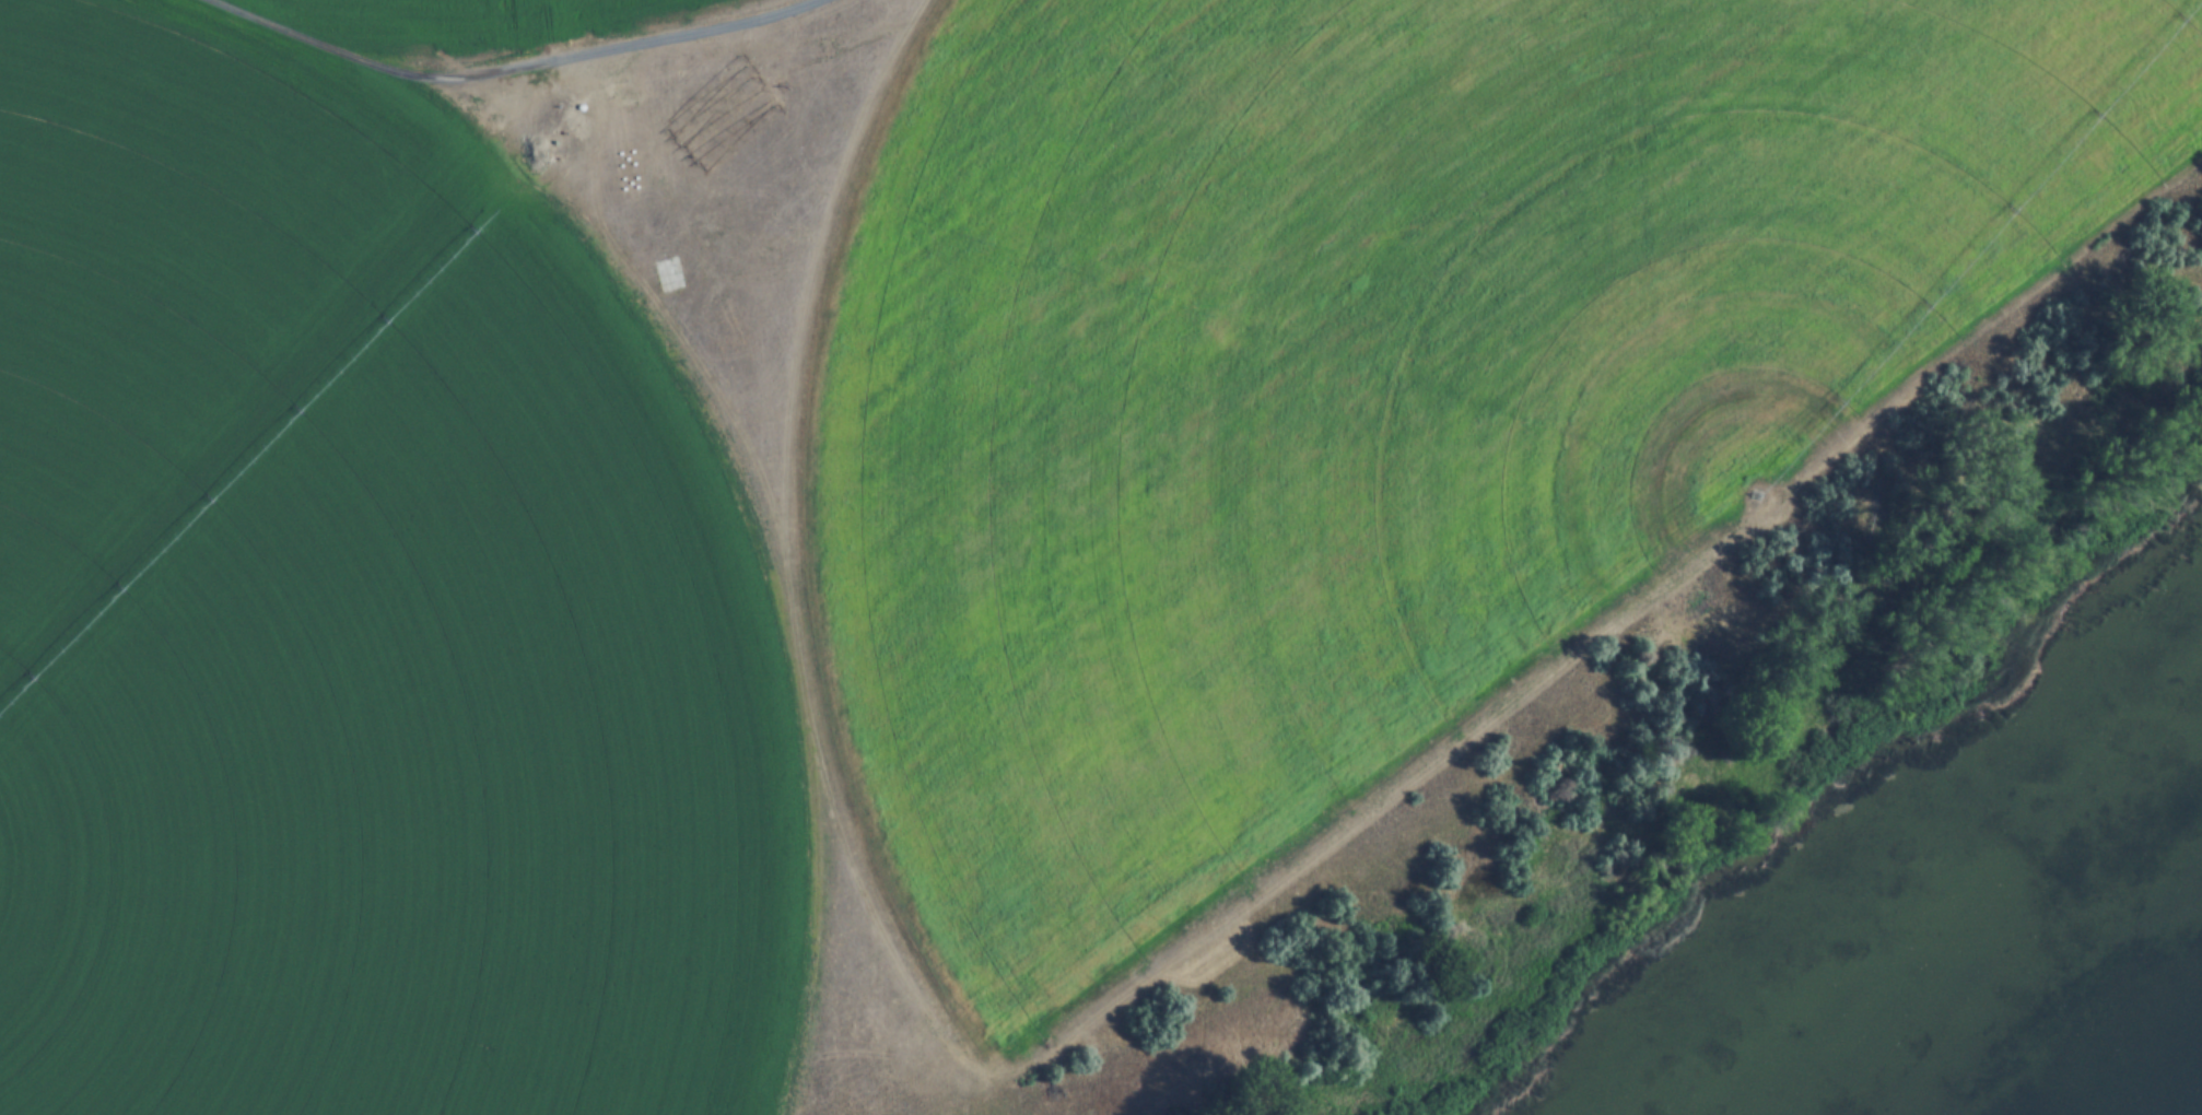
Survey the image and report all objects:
road: (493, 55)

